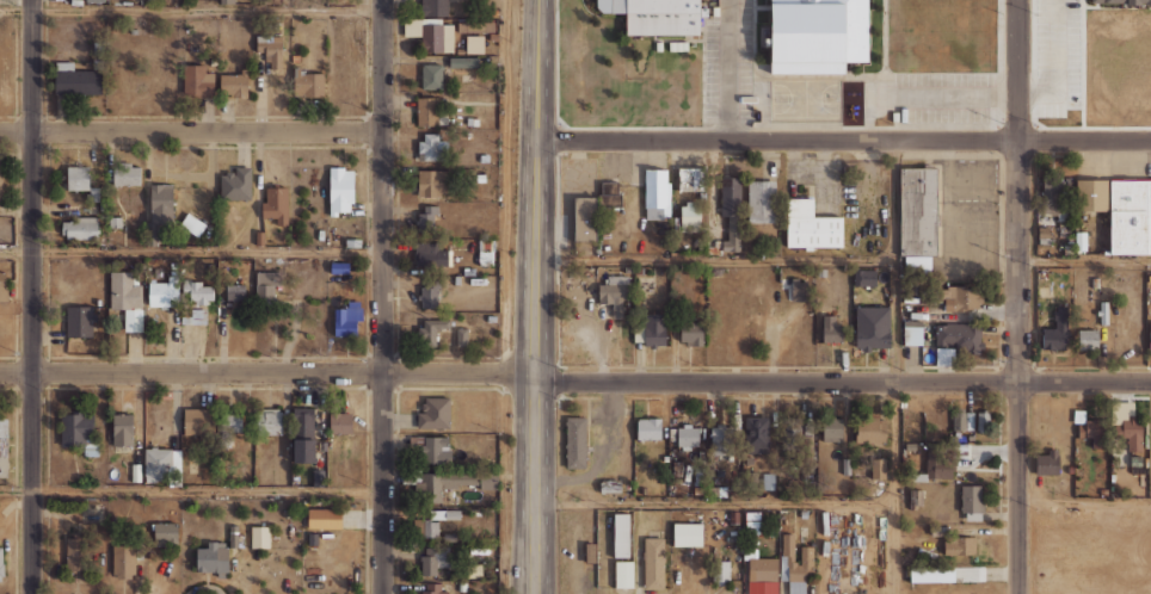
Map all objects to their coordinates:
building: (227, 1)
building: (1122, 1)
building: (435, 7)
road: (191, 8)
building: (655, 16)
building: (431, 33)
building: (817, 35)
building: (270, 48)
parking lot: (1058, 56)
building: (462, 61)
road: (1055, 64)
road: (727, 68)
building: (431, 76)
building: (76, 80)
building: (198, 81)
building: (233, 83)
building: (308, 83)
parking lot: (943, 97)
building: (427, 111)
road: (191, 130)
road: (844, 137)
building: (430, 147)
building: (127, 174)
building: (78, 177)
building: (691, 179)
building: (1, 182)
building: (431, 182)
building: (235, 184)
building: (340, 190)
building: (654, 191)
building: (609, 193)
building: (1091, 194)
building: (1058, 200)
building: (276, 204)
building: (731, 208)
building: (761, 209)
building: (159, 211)
building: (427, 216)
building: (690, 216)
building: (917, 217)
building: (1130, 217)
building: (585, 218)
building: (192, 223)
building: (811, 225)
building: (81, 228)
road: (191, 250)
building: (487, 253)
building: (430, 254)
road: (1084, 259)
road: (715, 260)
building: (628, 268)
building: (864, 277)
building: (266, 285)
building: (2, 286)
building: (796, 290)
building: (198, 291)
building: (235, 291)
building: (164, 292)
building: (615, 292)
building: (427, 293)
road: (535, 296)
road: (32, 297)
road: (383, 297)
road: (1018, 297)
building: (127, 298)
building: (960, 298)
building: (1102, 311)
building: (195, 317)
building: (347, 318)
building: (79, 321)
building: (872, 327)
building: (831, 329)
building: (1055, 329)
building: (431, 330)
building: (652, 330)
building: (691, 332)
building: (912, 332)
building: (1150, 334)
building: (462, 336)
building: (1088, 339)
building: (956, 342)
road: (897, 366)
road: (574, 380)
building: (435, 413)
building: (303, 419)
building: (958, 420)
building: (983, 420)
building: (198, 421)
building: (270, 421)
building: (340, 422)
building: (229, 425)
building: (794, 426)
building: (648, 428)
building: (1092, 428)
building: (75, 429)
building: (122, 429)
building: (832, 429)
building: (869, 432)
building: (1130, 432)
building: (757, 434)
building: (687, 437)
building: (722, 438)
building: (574, 441)
building: (4, 446)
building: (436, 450)
building: (304, 451)
building: (1047, 462)
building: (162, 465)
building: (847, 465)
building: (878, 468)
building: (934, 468)
building: (698, 474)
building: (318, 477)
building: (488, 479)
building: (768, 481)
building: (444, 483)
building: (610, 485)
road: (191, 489)
building: (697, 489)
building: (716, 491)
building: (972, 497)
road: (714, 502)
road: (1085, 503)
building: (445, 514)
building: (733, 516)
building: (324, 518)
building: (751, 522)
building: (431, 528)
building: (165, 533)
building: (687, 533)
building: (621, 534)
building: (233, 536)
building: (259, 537)
building: (959, 545)
building: (590, 552)
building: (73, 553)
building: (211, 558)
building: (433, 558)
building: (123, 561)
building: (653, 562)
building: (788, 562)
building: (1, 564)
building: (721, 570)
building: (761, 571)
building: (623, 574)
building: (931, 574)
building: (433, 588)

